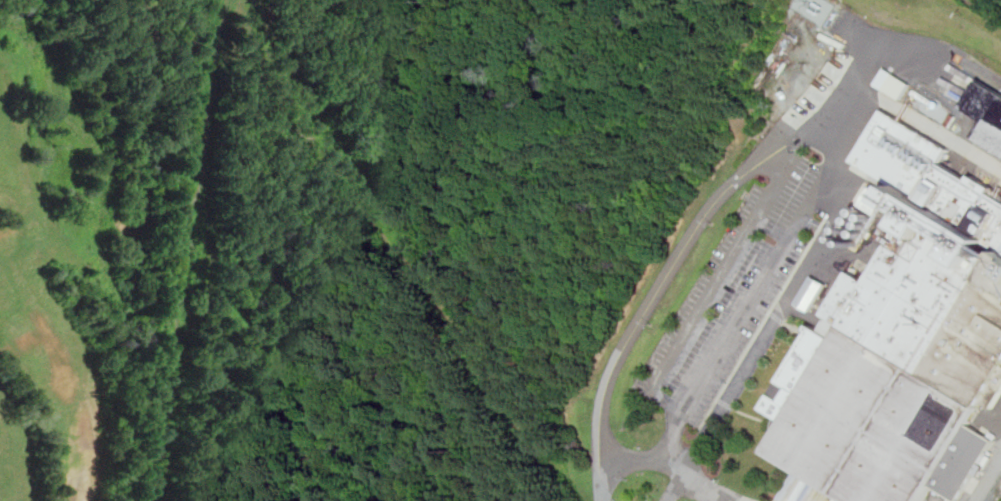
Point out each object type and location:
road: (989, 6)
power substation: (813, 9)
road: (878, 45)
building: (891, 83)
road: (862, 90)
building: (986, 115)
road: (193, 250)
parking lot: (737, 278)
building: (812, 292)
road: (788, 301)
road: (746, 305)
road: (637, 328)
building: (902, 337)
road: (674, 462)
road: (988, 479)

